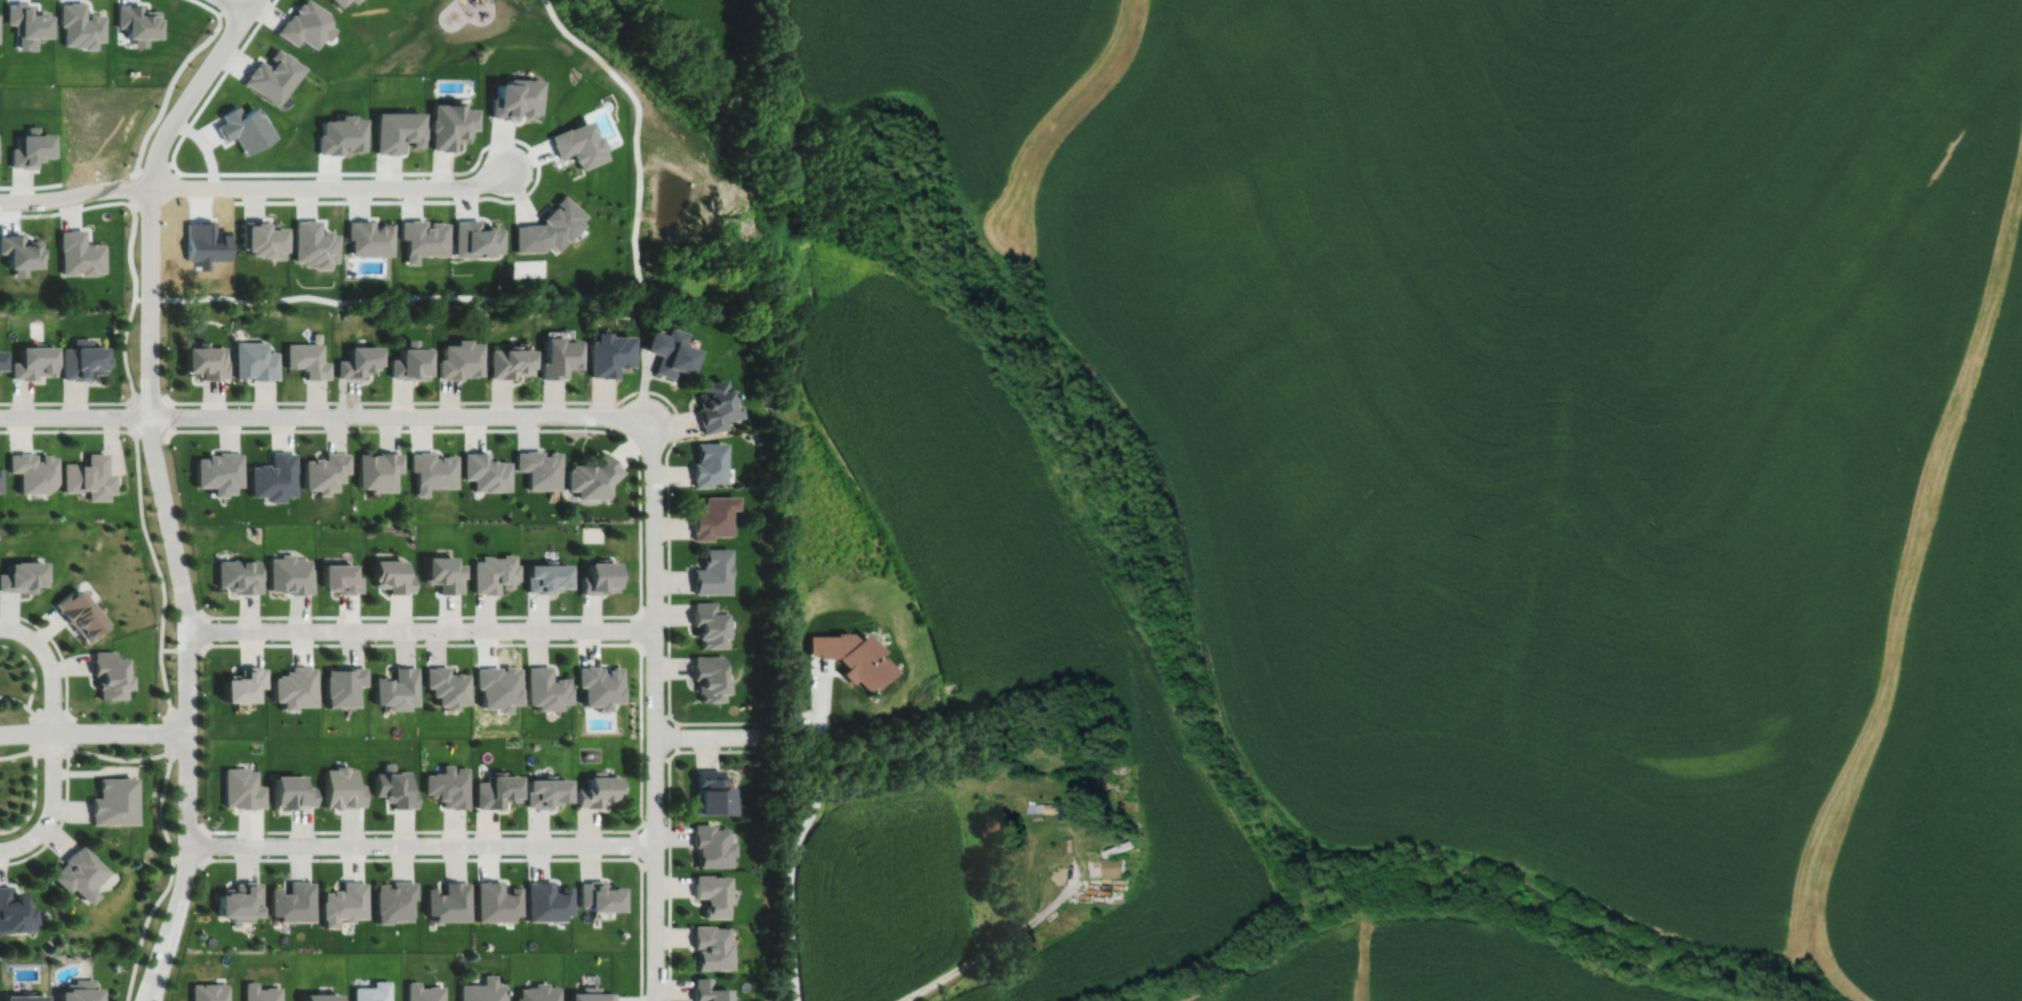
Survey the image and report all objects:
building: (351, 0)
building: (338, 2)
road: (236, 5)
road: (250, 5)
building: (26, 20)
building: (138, 22)
building: (304, 24)
building: (80, 25)
road: (248, 36)
crop: (951, 63)
building: (272, 75)
road: (166, 94)
building: (515, 98)
building: (450, 124)
building: (242, 128)
building: (396, 130)
building: (578, 144)
building: (30, 148)
road: (30, 185)
road: (330, 186)
road: (75, 193)
road: (495, 197)
road: (27, 214)
building: (549, 228)
building: (369, 238)
building: (260, 239)
building: (423, 239)
building: (476, 239)
building: (312, 243)
building: (79, 254)
road: (129, 258)
road: (551, 299)
building: (669, 353)
building: (559, 354)
building: (610, 355)
building: (306, 360)
building: (458, 360)
building: (1, 361)
building: (82, 361)
building: (253, 361)
building: (204, 362)
building: (408, 362)
building: (34, 363)
building: (356, 363)
building: (508, 363)
road: (146, 396)
road: (622, 398)
crop: (1542, 399)
road: (70, 401)
building: (714, 407)
road: (129, 415)
road: (326, 415)
road: (154, 436)
building: (708, 465)
building: (538, 466)
building: (376, 467)
building: (215, 469)
building: (321, 469)
building: (430, 469)
building: (484, 469)
building: (31, 470)
building: (87, 474)
building: (270, 474)
building: (593, 475)
road: (162, 496)
building: (711, 514)
building: (711, 570)
building: (442, 571)
building: (493, 571)
building: (288, 573)
building: (22, 574)
building: (236, 574)
building: (389, 574)
building: (544, 575)
building: (598, 575)
building: (338, 576)
road: (163, 593)
road: (653, 607)
building: (80, 612)
crop: (1022, 616)
building: (708, 622)
road: (633, 628)
road: (420, 629)
road: (466, 643)
road: (186, 648)
road: (653, 651)
building: (851, 655)
road: (63, 665)
road: (31, 667)
building: (108, 673)
building: (707, 676)
building: (239, 682)
building: (340, 684)
building: (598, 684)
building: (444, 685)
building: (292, 686)
building: (394, 687)
building: (544, 687)
road: (14, 697)
building: (763, 700)
road: (654, 707)
road: (654, 716)
road: (32, 731)
road: (93, 731)
road: (675, 735)
road: (707, 735)
road: (52, 737)
crop: (1949, 744)
road: (50, 751)
road: (16, 753)
road: (654, 758)
building: (393, 786)
building: (447, 786)
building: (340, 787)
building: (240, 788)
building: (495, 789)
building: (289, 790)
building: (597, 790)
building: (544, 791)
building: (709, 792)
building: (112, 800)
road: (32, 801)
building: (1035, 806)
building: (989, 807)
building: (1050, 807)
building: (1067, 810)
road: (60, 821)
road: (654, 823)
road: (669, 831)
road: (800, 836)
road: (633, 843)
road: (421, 844)
building: (709, 845)
road: (191, 860)
road: (654, 865)
building: (1113, 866)
building: (77, 873)
building: (1006, 874)
road: (169, 878)
building: (710, 894)
crop: (878, 895)
building: (597, 896)
building: (392, 900)
building: (238, 901)
building: (495, 901)
building: (545, 901)
building: (291, 902)
building: (447, 902)
building: (342, 903)
road: (1052, 905)
building: (12, 912)
building: (711, 944)
road: (970, 962)
crop: (1438, 965)
building: (708, 989)
building: (483, 990)
building: (78, 991)
building: (207, 992)
building: (372, 992)
building: (423, 992)
building: (259, 993)
building: (537, 993)
building: (590, 995)
building: (23, 997)
building: (319, 998)

